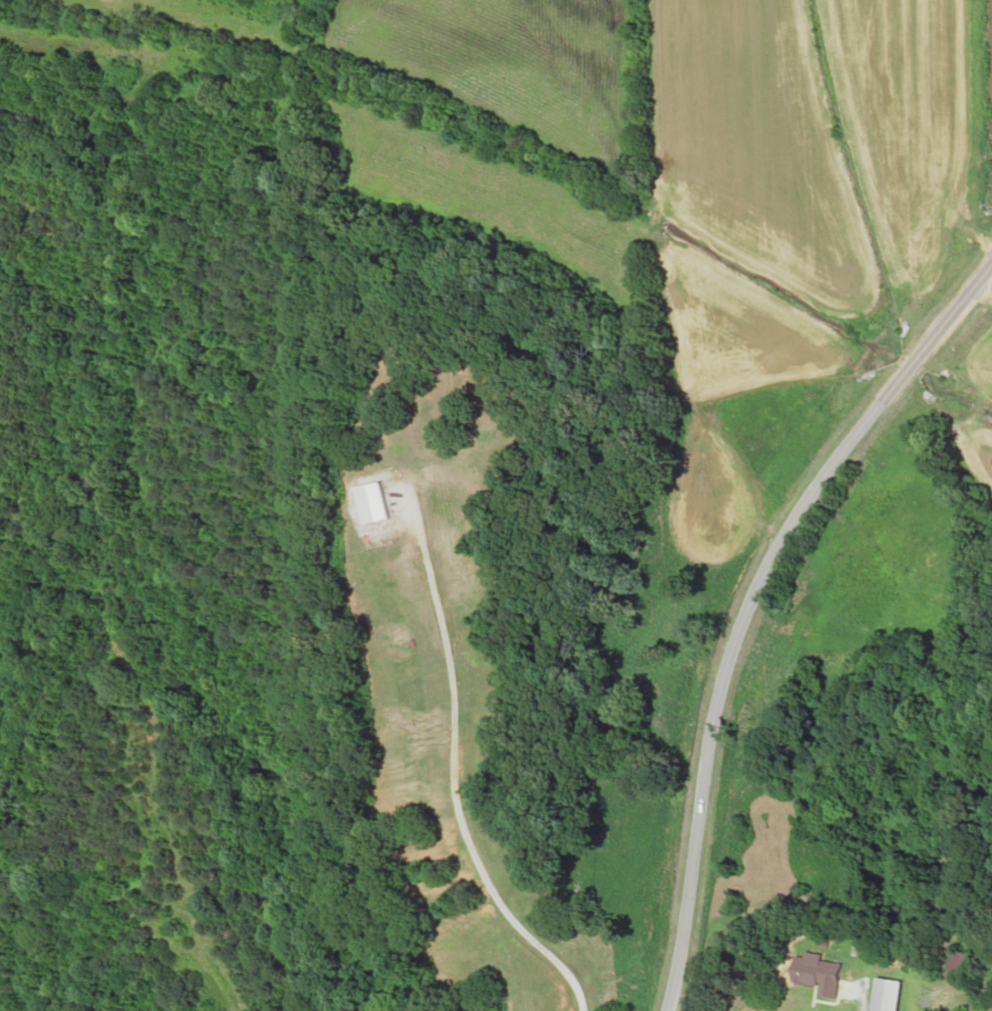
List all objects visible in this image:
road: (731, 606)
road: (468, 798)
building: (817, 953)
building: (895, 995)

